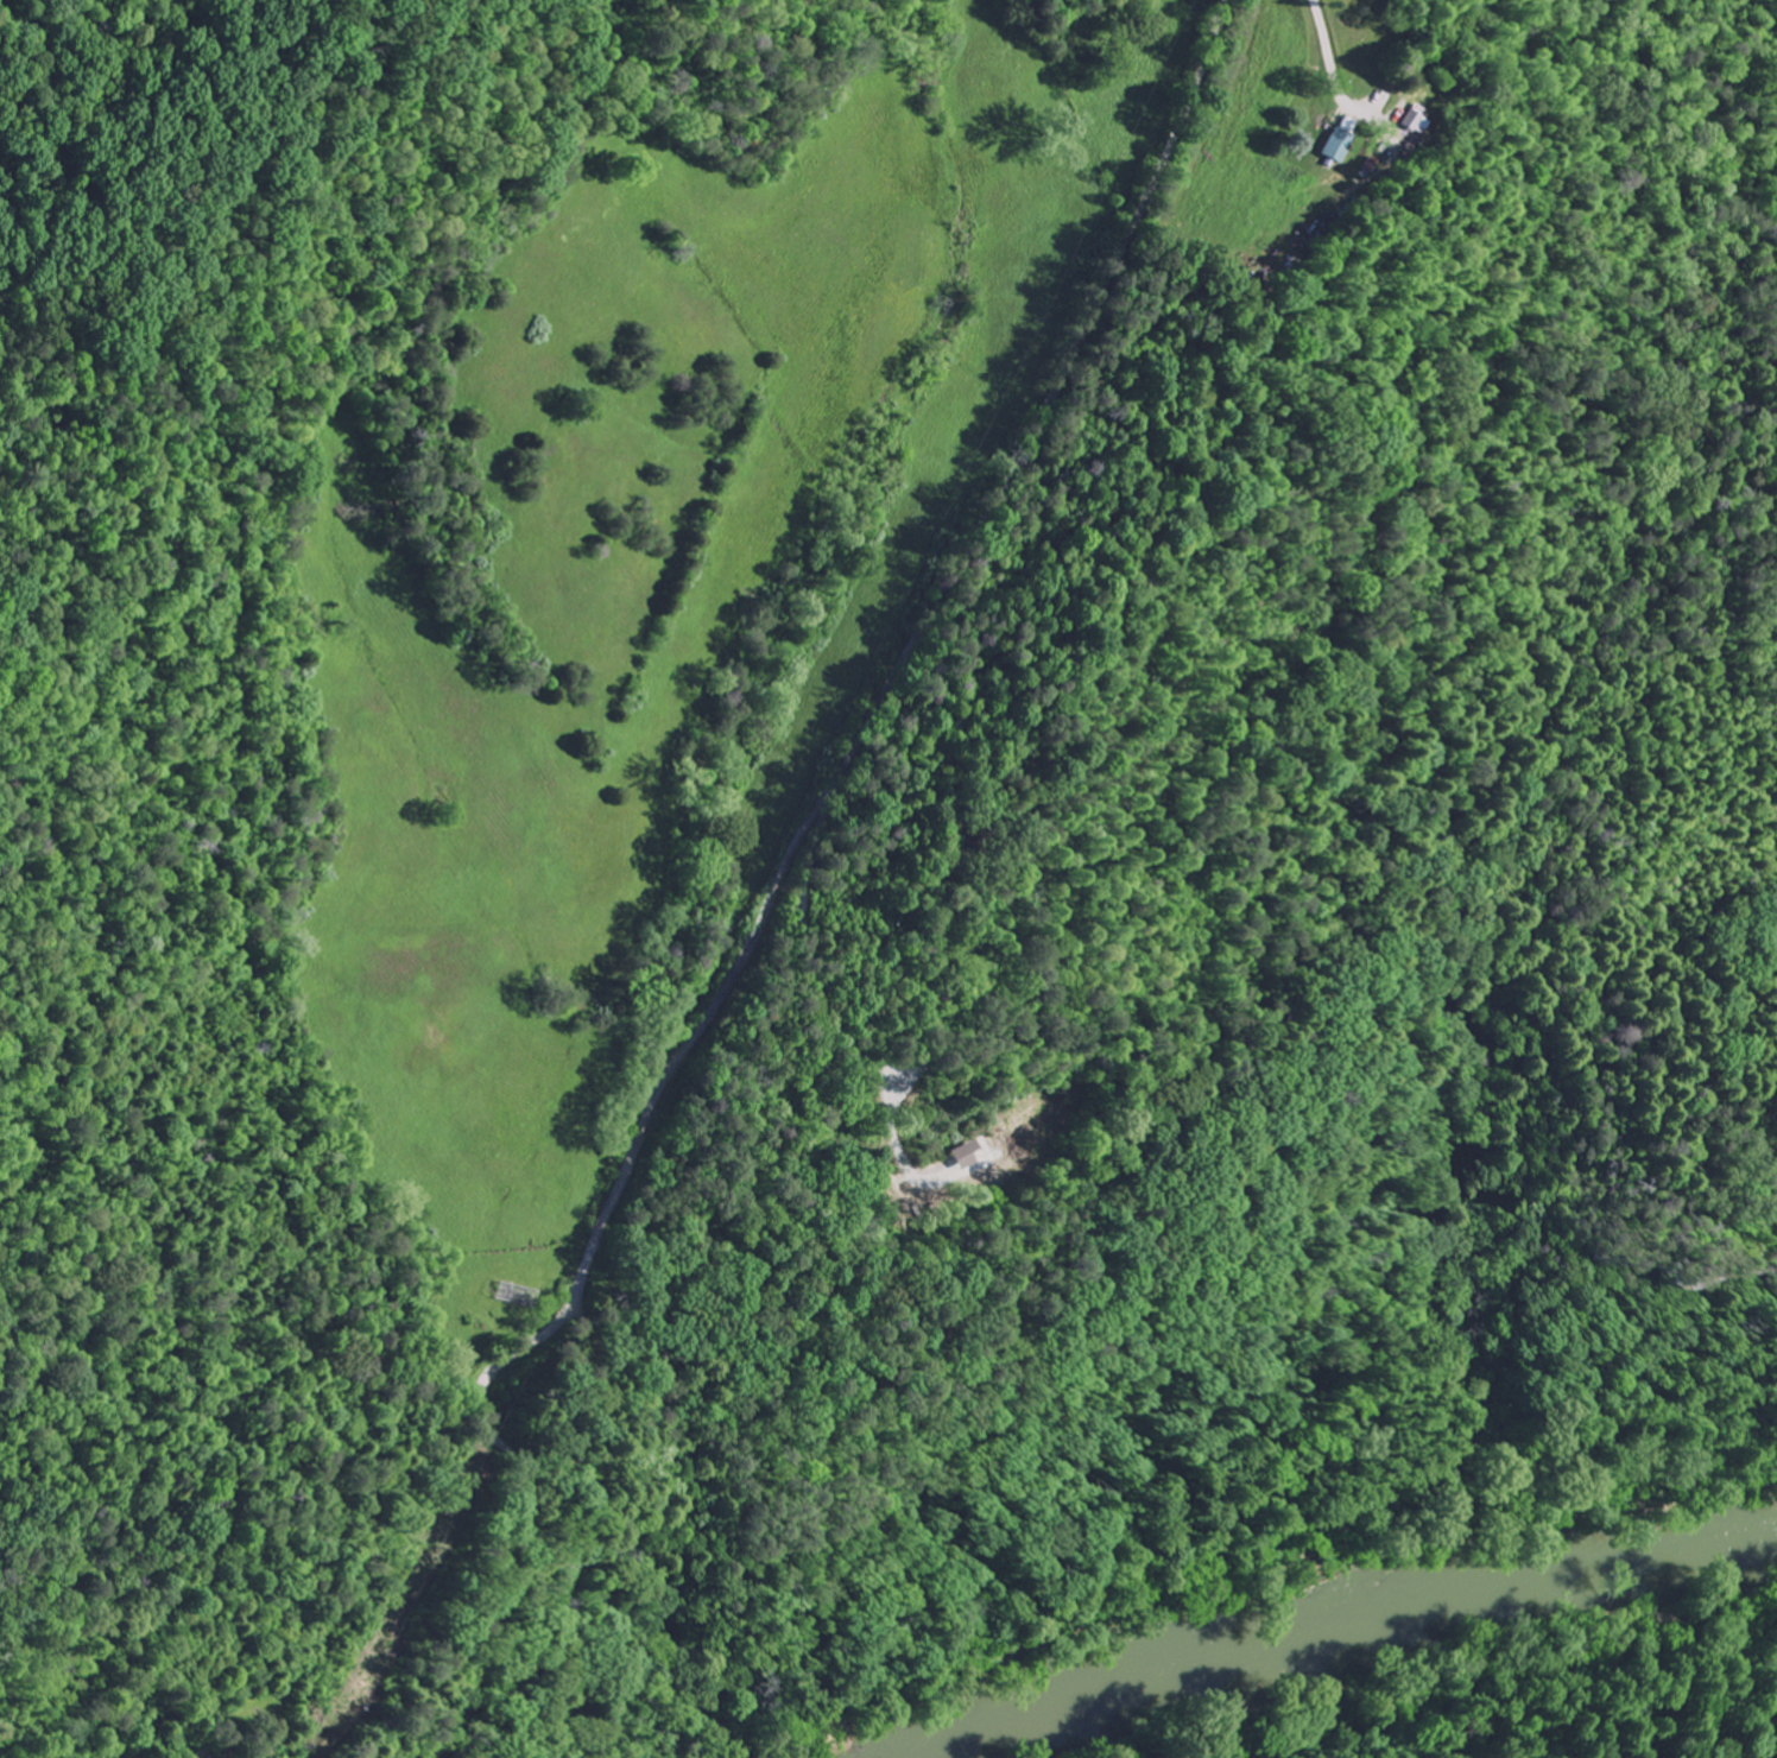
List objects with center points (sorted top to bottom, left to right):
road: (1764, 13)
road: (1334, 82)
building: (1409, 120)
building: (1334, 141)
road: (778, 879)
building: (513, 1290)
river: (1346, 1625)
building: (196, 1757)

